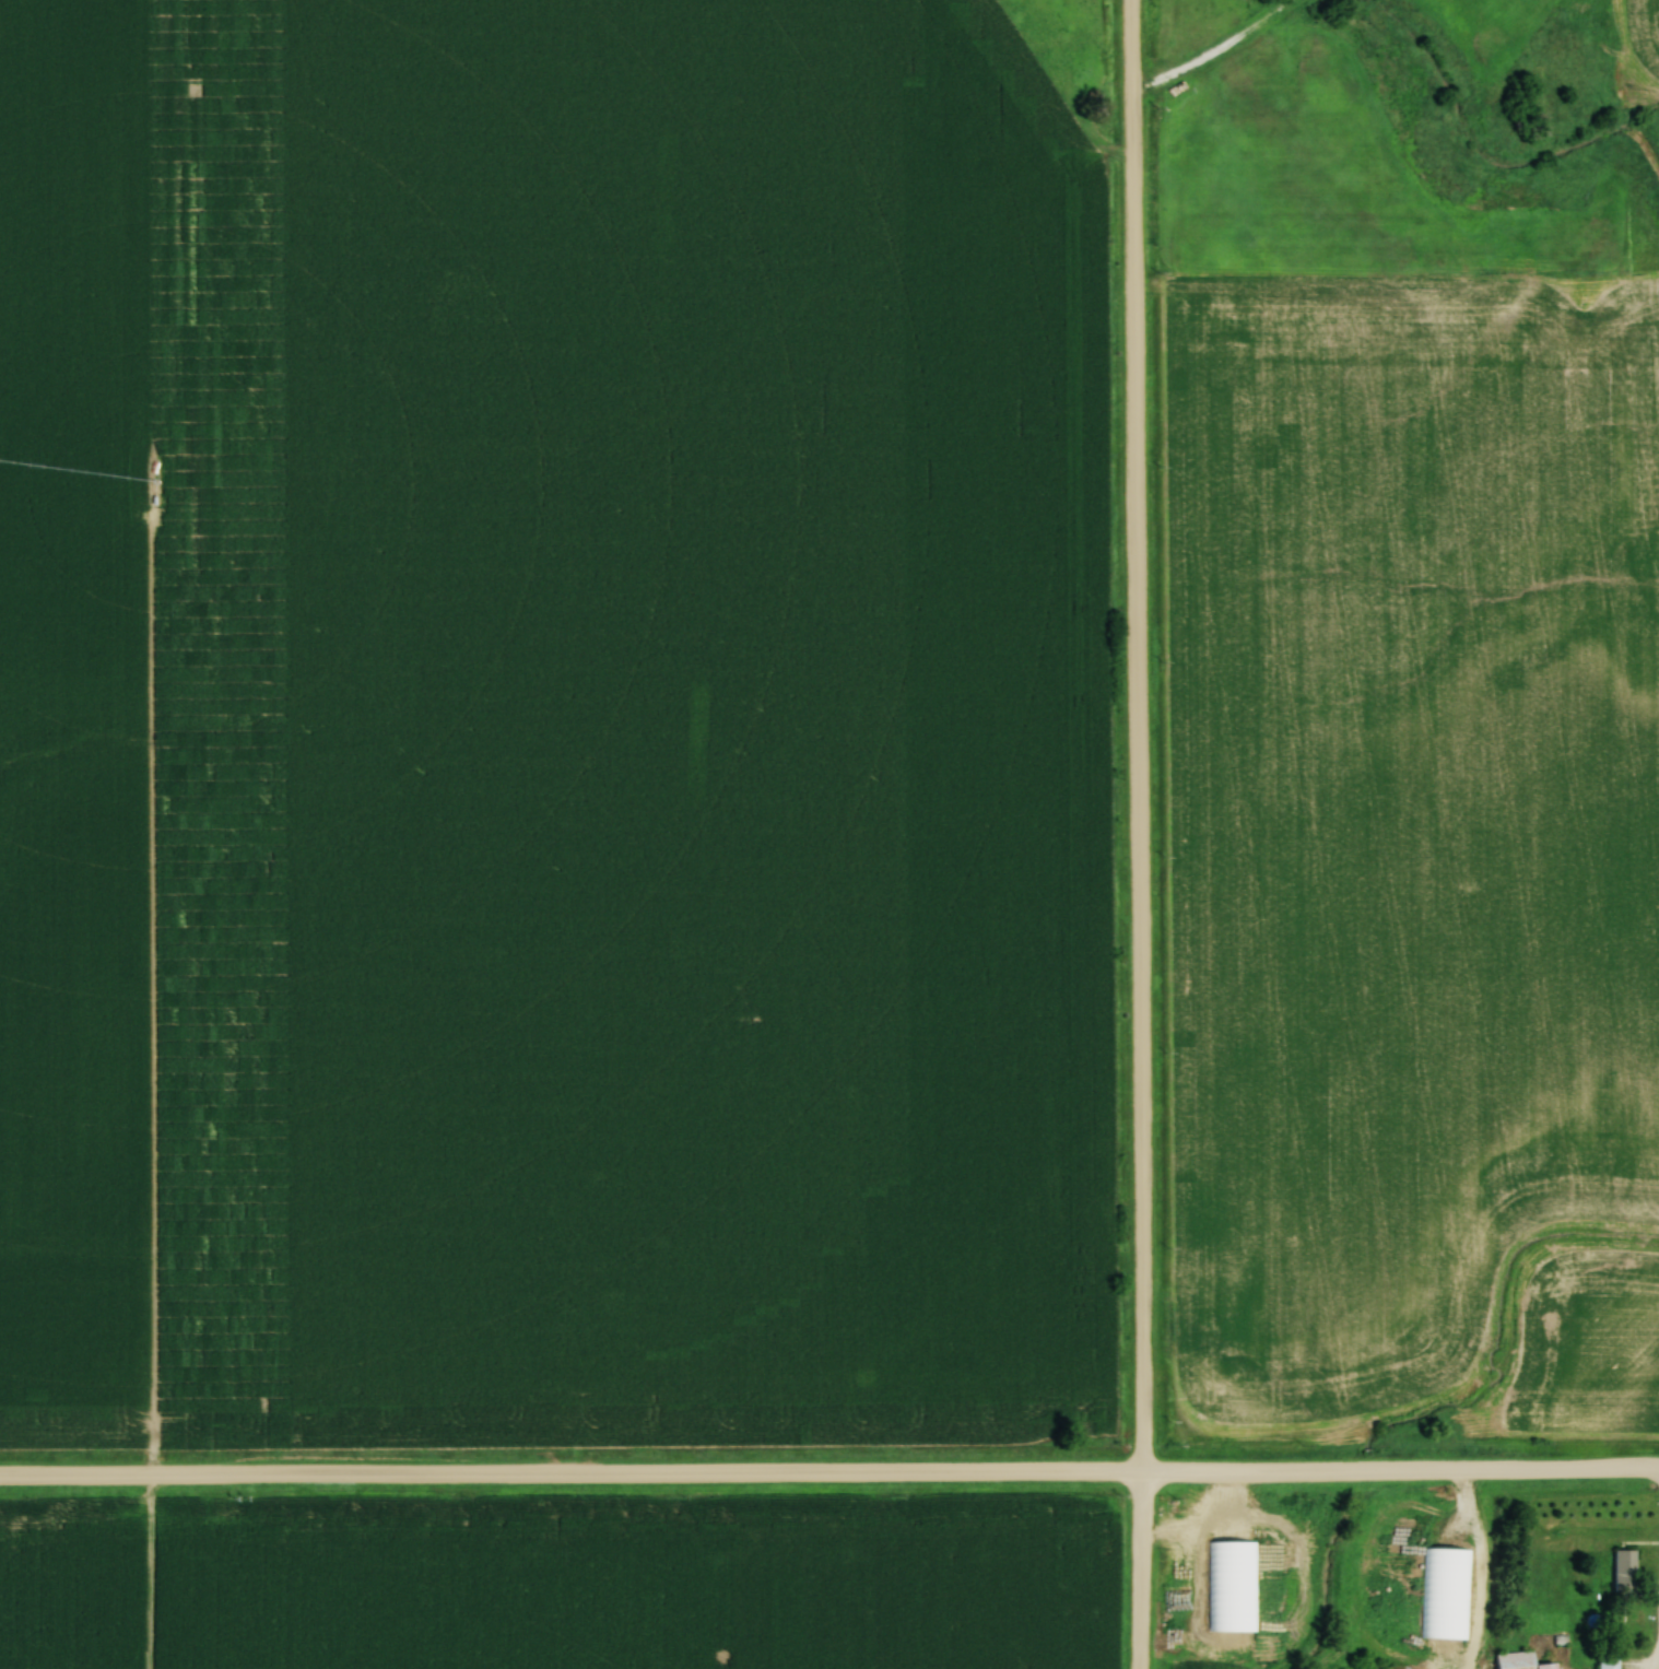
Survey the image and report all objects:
road: (1139, 834)
road: (829, 1477)
building: (1622, 1571)
building: (1229, 1587)
building: (1445, 1595)
building: (1514, 1661)
building: (1604, 1661)
road: (1657, 1666)

